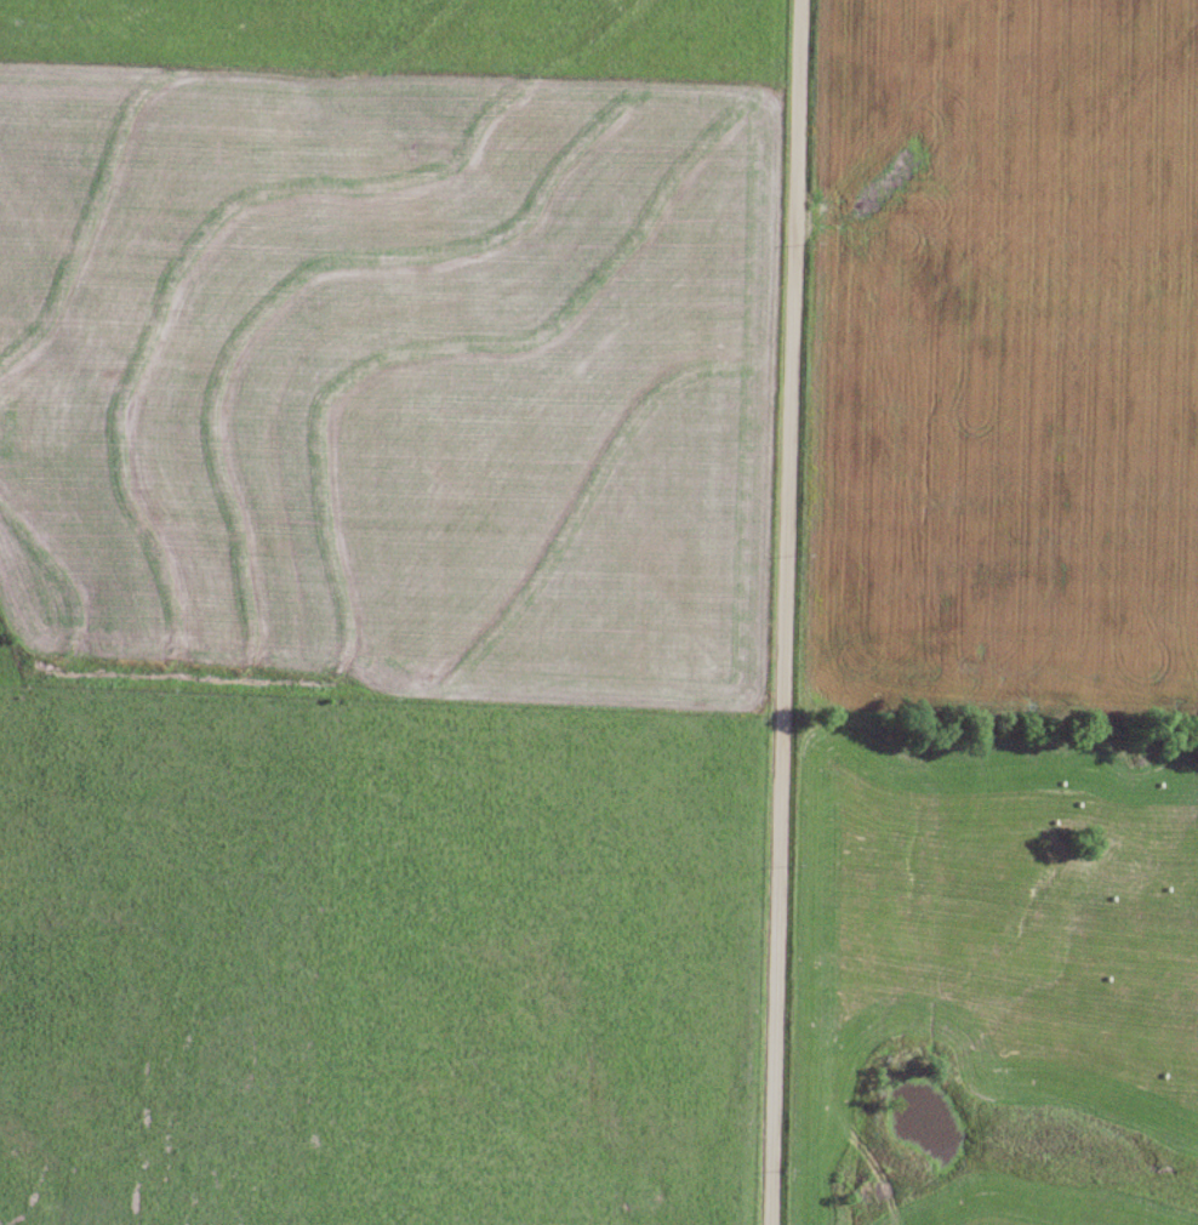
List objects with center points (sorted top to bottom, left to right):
road: (258, 11)
road: (782, 612)

